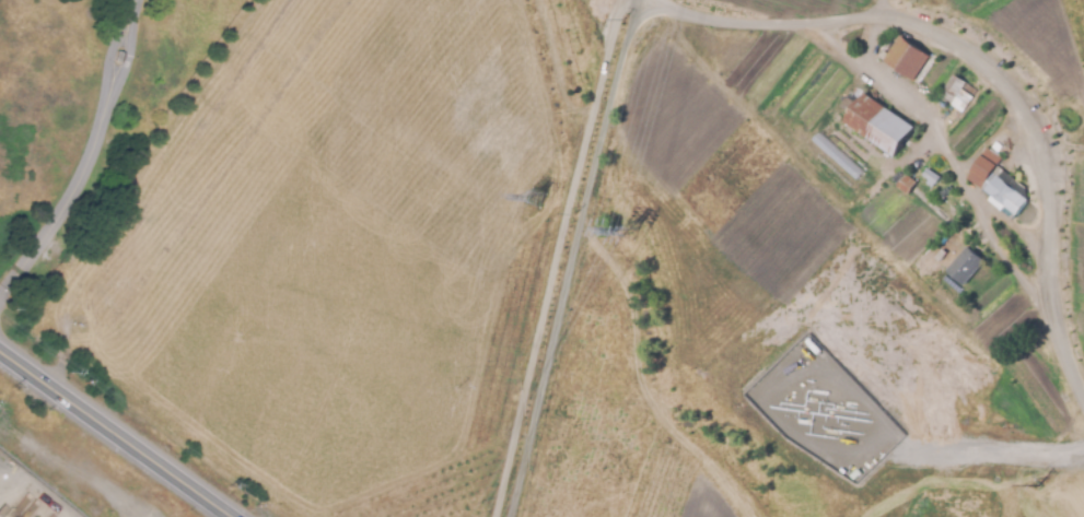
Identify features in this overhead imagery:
road: (132, 5)
road: (835, 45)
road: (112, 47)
road: (130, 51)
building: (120, 57)
building: (907, 58)
building: (953, 87)
park: (85, 119)
building: (881, 124)
road: (937, 138)
road: (596, 141)
building: (837, 155)
road: (1048, 160)
building: (983, 167)
building: (932, 175)
building: (908, 184)
building: (1006, 191)
road: (67, 199)
power tower: (533, 199)
power tower: (621, 228)
road: (1007, 263)
building: (966, 266)
road: (115, 433)
road: (1001, 456)

